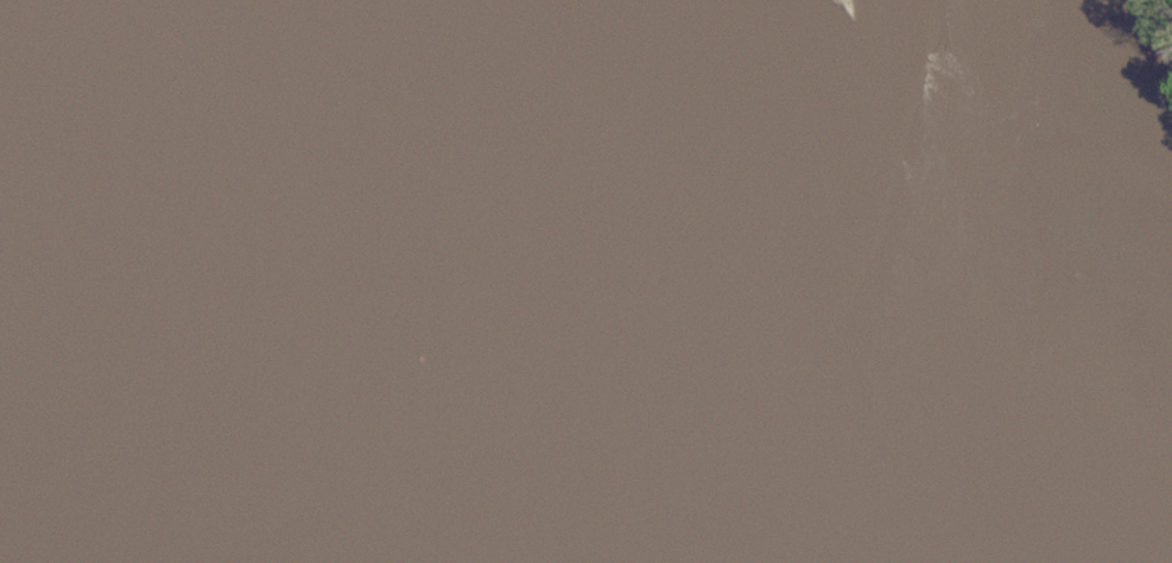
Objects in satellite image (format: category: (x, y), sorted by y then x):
river: (366, 336)

